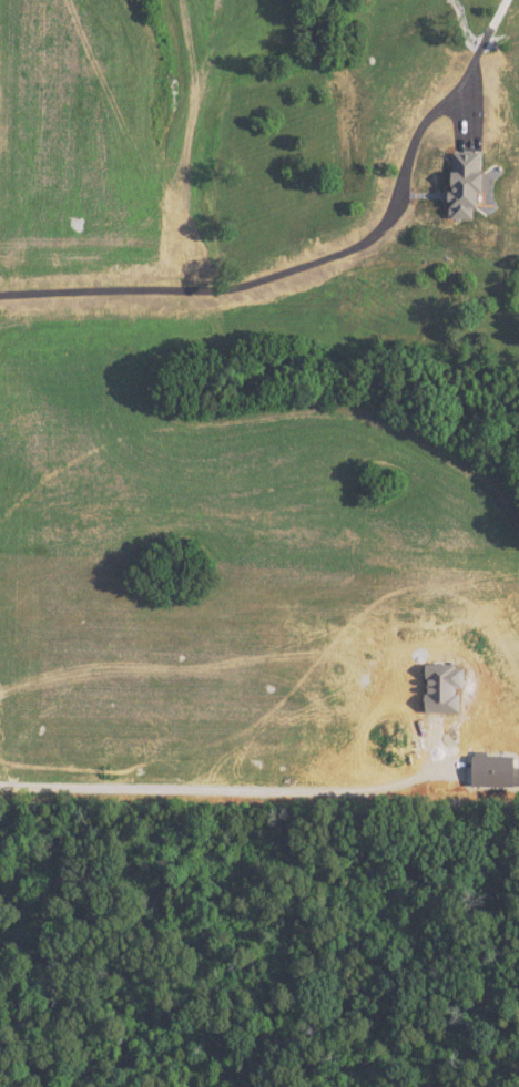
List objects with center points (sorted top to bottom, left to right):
road: (327, 260)

